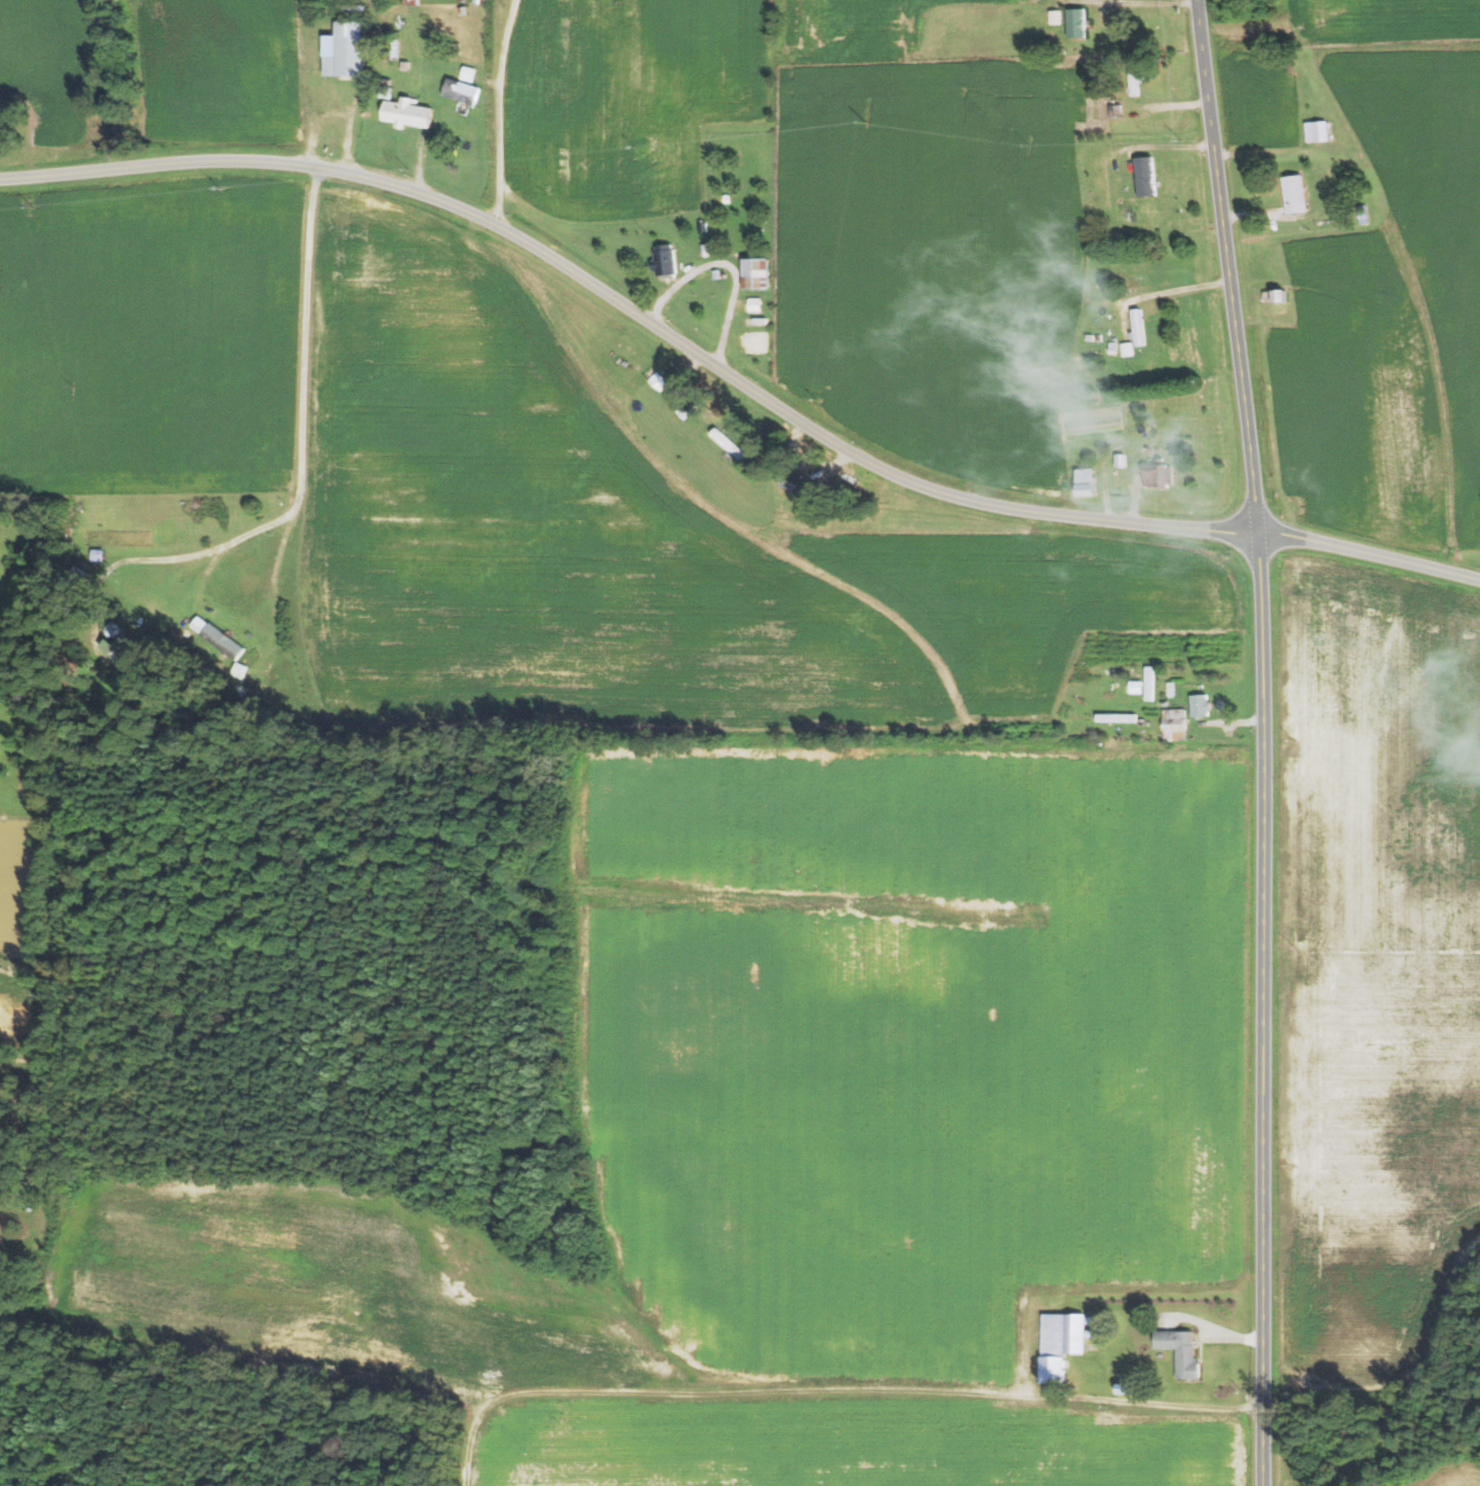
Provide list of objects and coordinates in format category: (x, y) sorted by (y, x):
building: (412, 2)
building: (1057, 16)
building: (347, 49)
building: (1135, 80)
building: (463, 90)
building: (409, 112)
road: (501, 113)
building: (1318, 130)
building: (1147, 175)
building: (1296, 193)
building: (666, 259)
road: (728, 266)
building: (758, 272)
building: (1278, 299)
building: (756, 304)
building: (1138, 326)
building: (1127, 348)
road: (734, 376)
road: (306, 422)
building: (1160, 475)
building: (798, 481)
building: (1088, 481)
building: (224, 642)
building: (124, 649)
building: (1150, 683)
building: (1201, 705)
building: (1175, 724)
road: (1259, 741)
building: (1062, 1342)
building: (1182, 1351)
road: (783, 1395)

